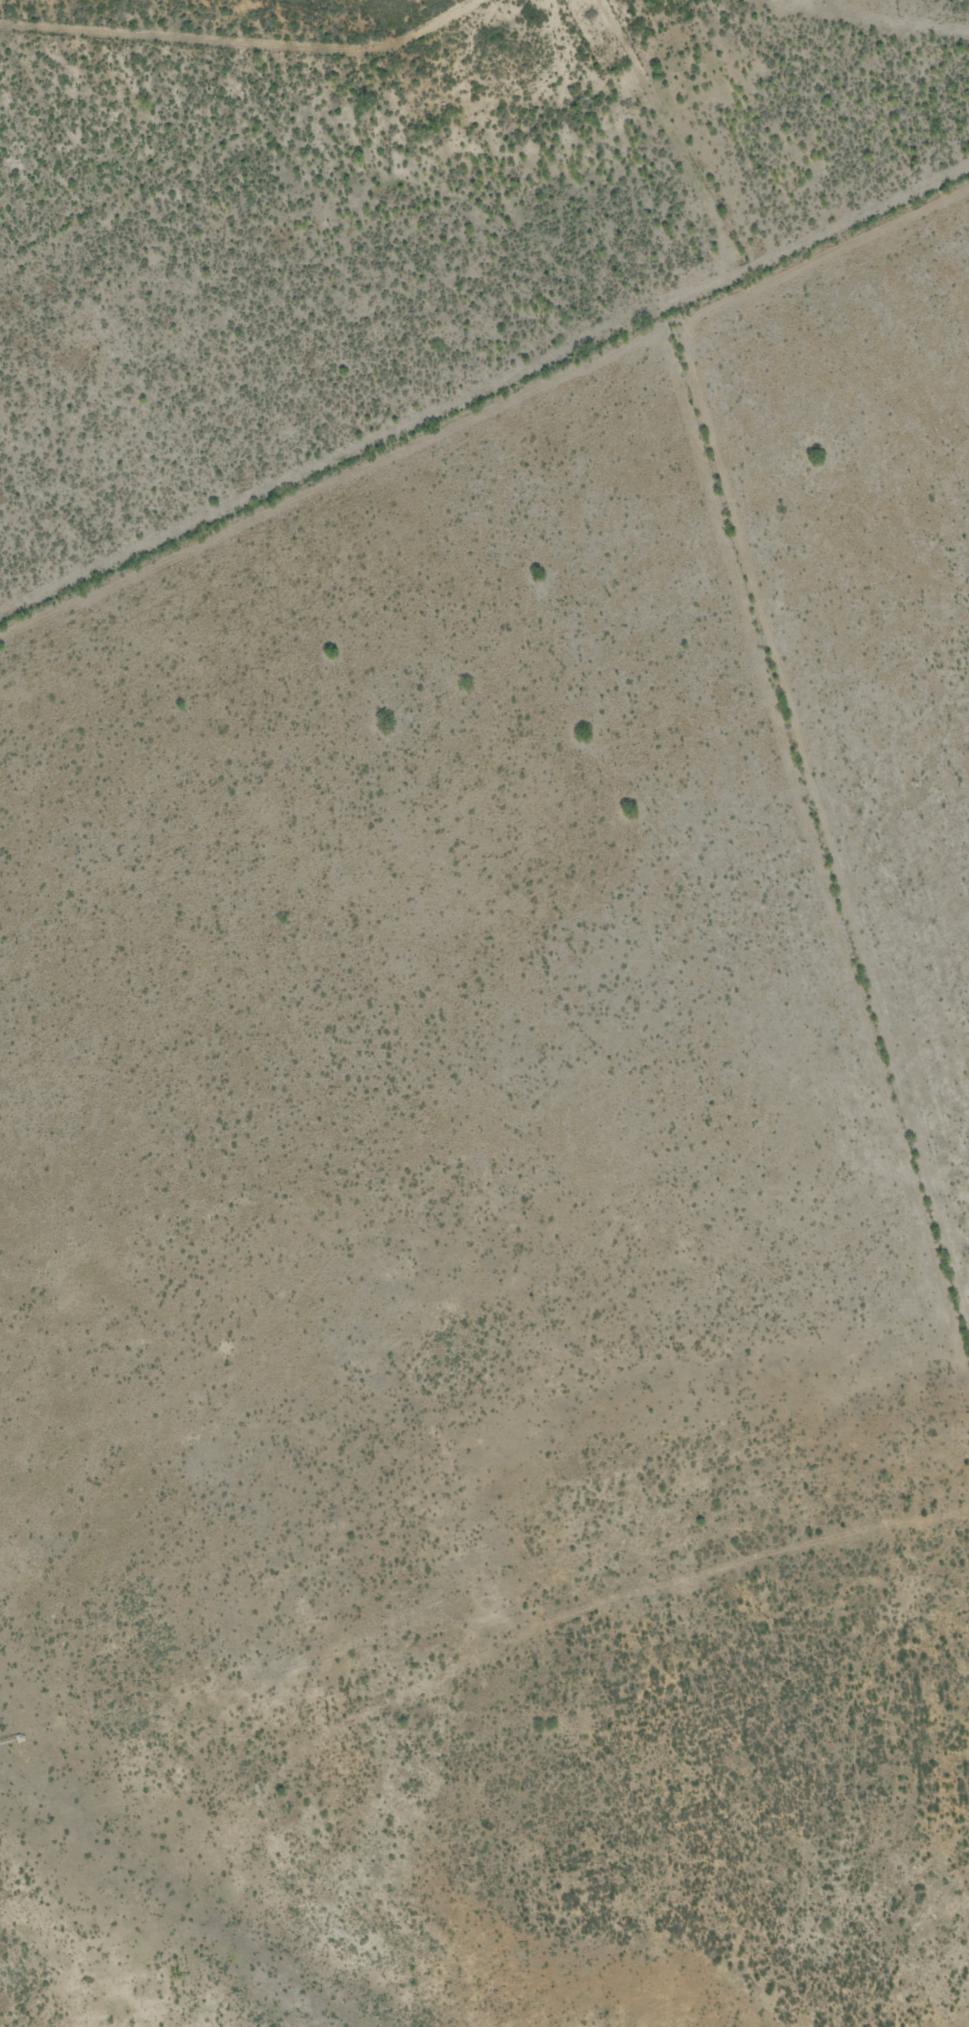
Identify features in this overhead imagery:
power tower: (895, 18)

